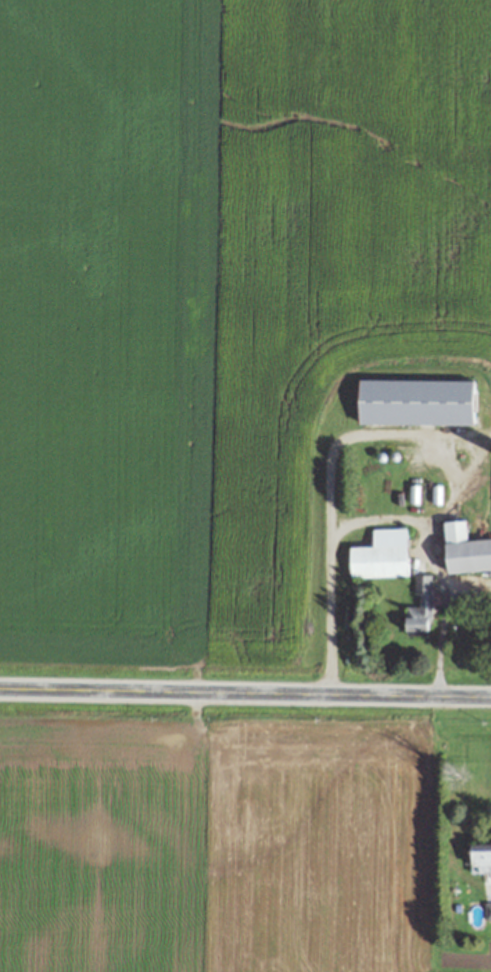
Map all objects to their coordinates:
road: (350, 520)
building: (465, 547)
building: (380, 553)
building: (419, 604)
road: (438, 637)
road: (245, 692)
building: (480, 856)
building: (487, 909)

